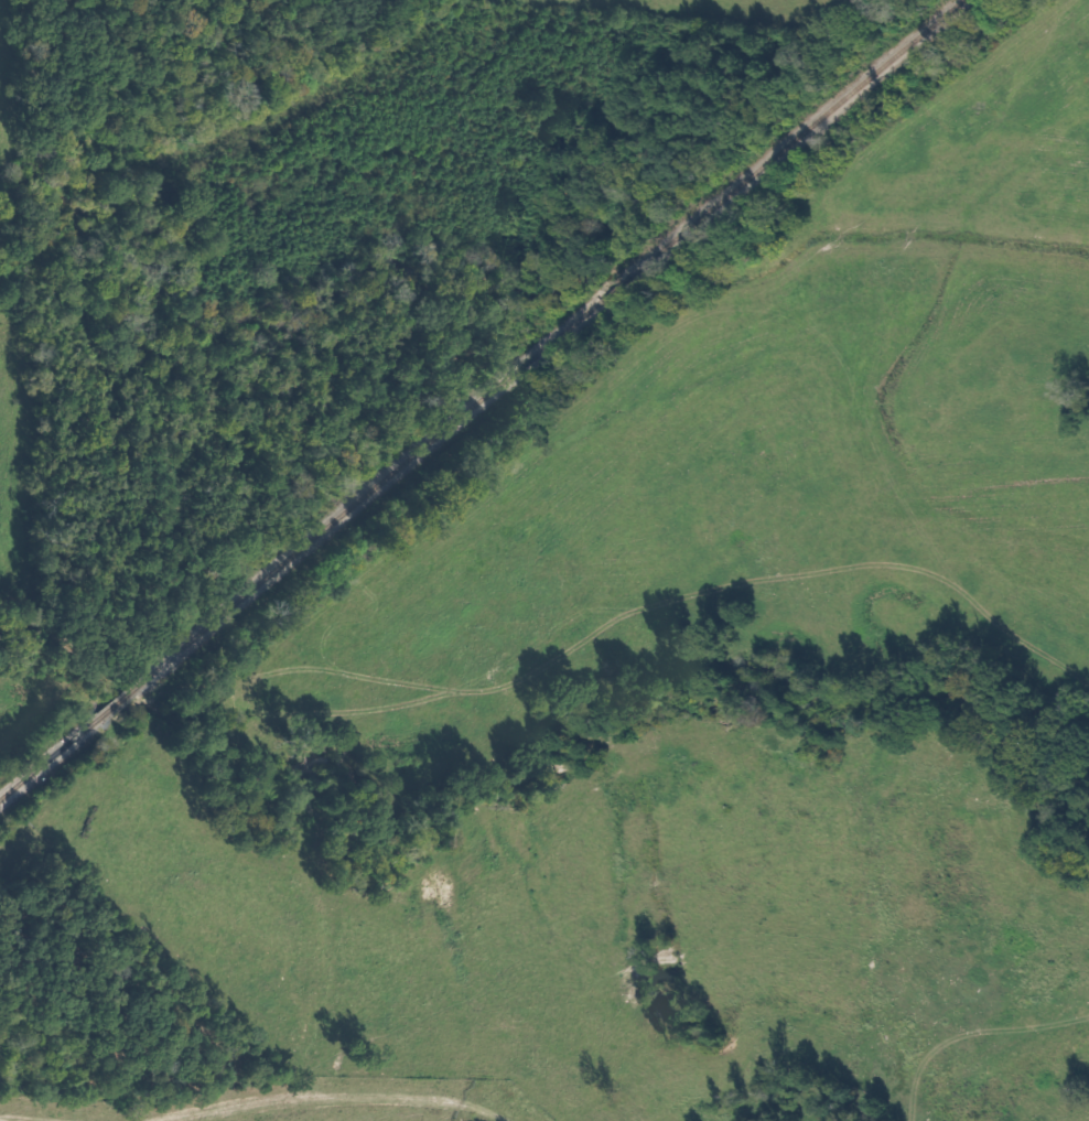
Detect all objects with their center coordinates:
railway: (478, 398)

